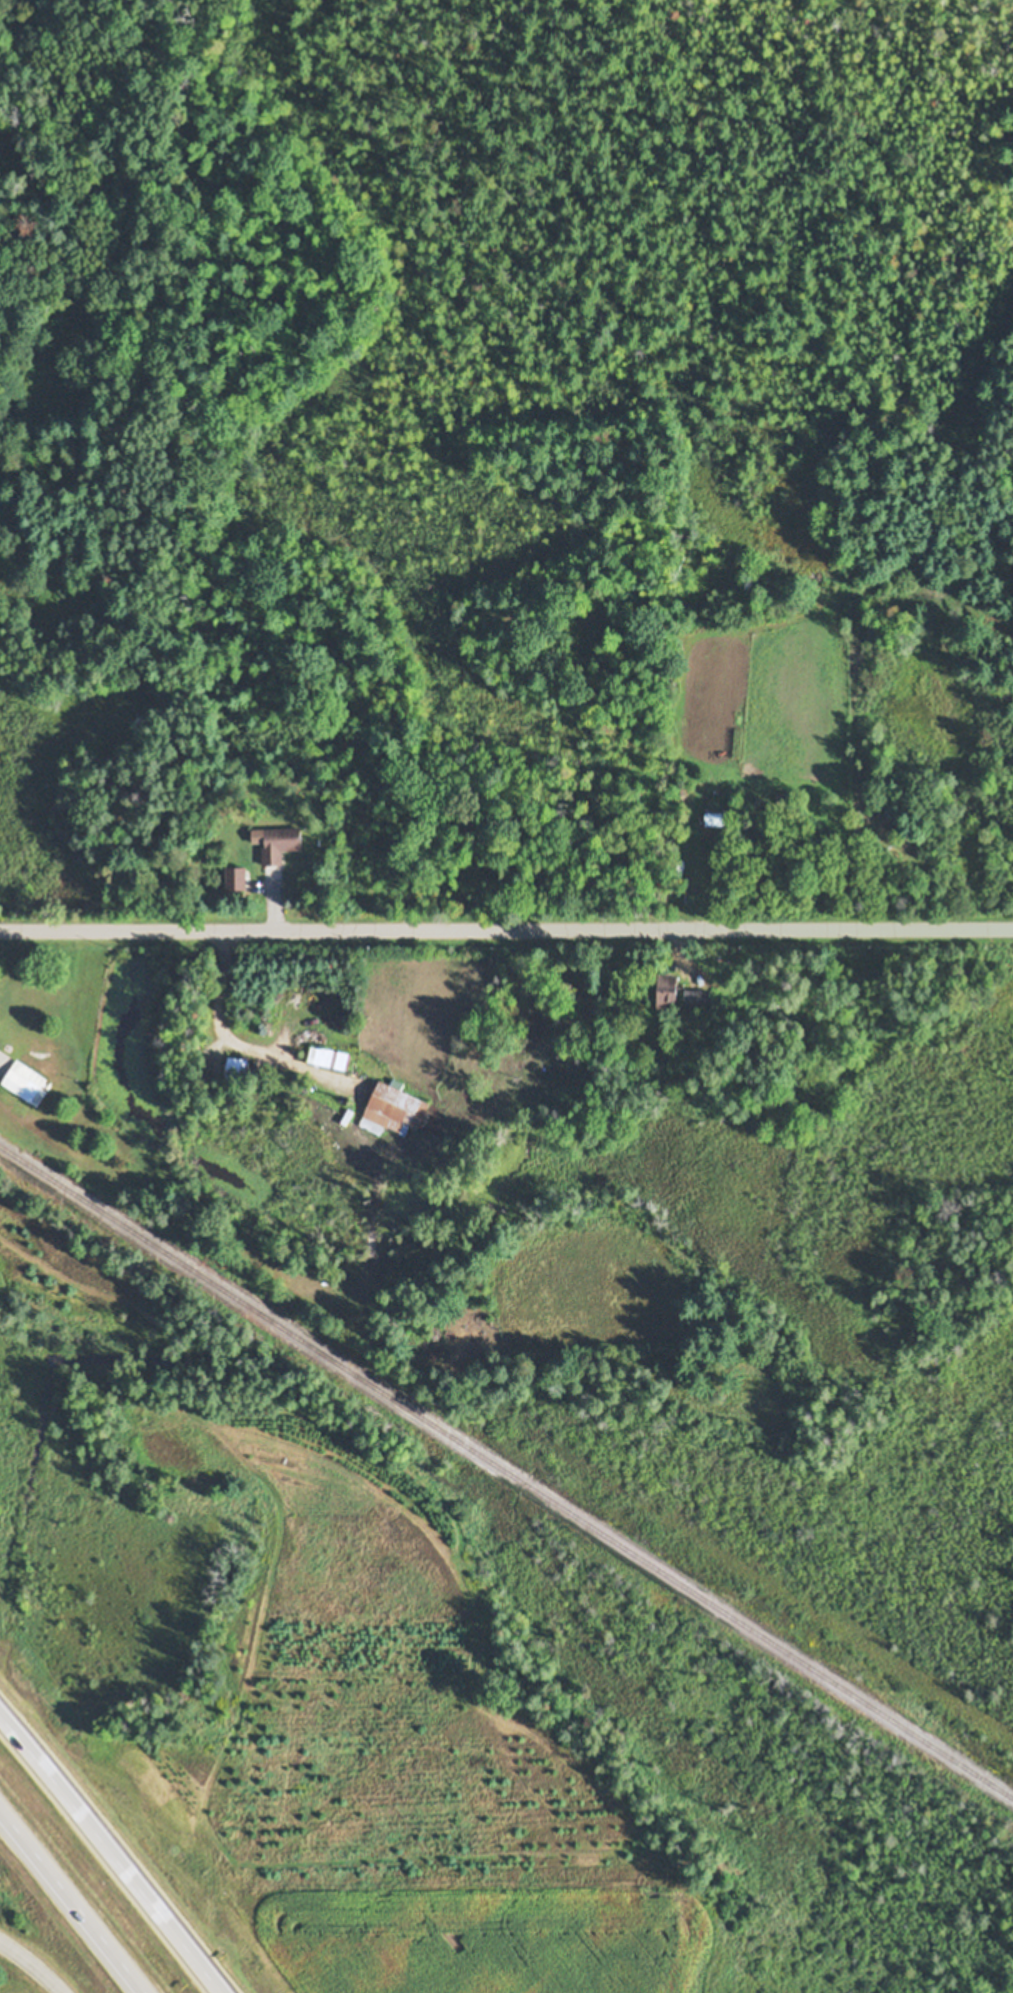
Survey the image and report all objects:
building: (717, 818)
building: (282, 843)
building: (238, 877)
road: (506, 929)
building: (669, 988)
building: (698, 998)
building: (331, 1057)
building: (240, 1068)
building: (27, 1082)
building: (395, 1111)
building: (161, 1174)
railway: (506, 1472)
road: (112, 1853)
road: (72, 1901)
crop: (472, 1935)
road: (33, 1963)

